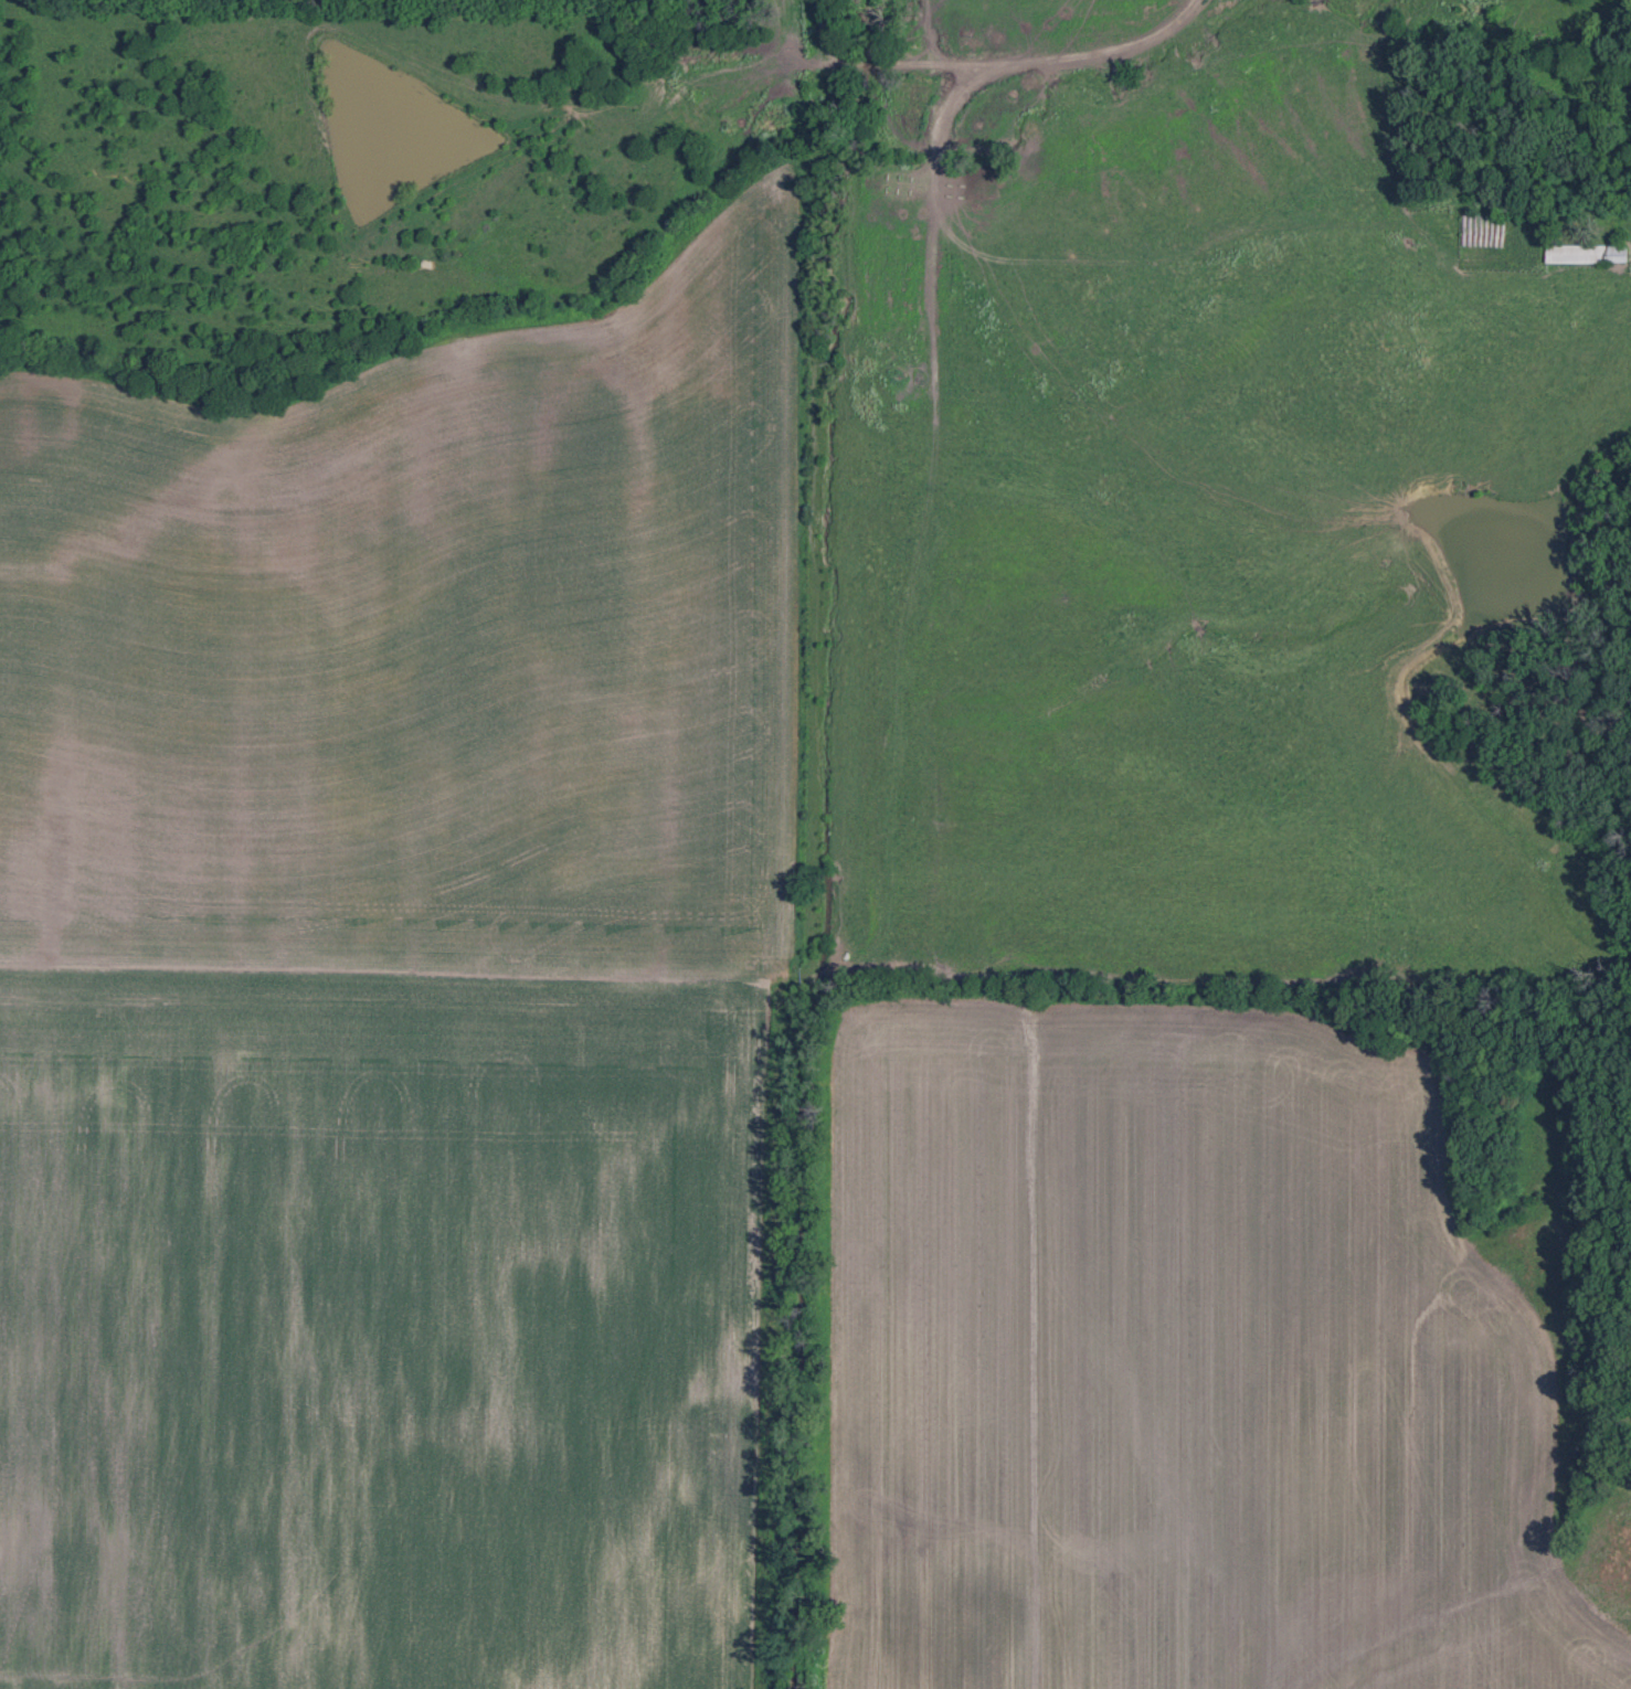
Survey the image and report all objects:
building: (1586, 254)

